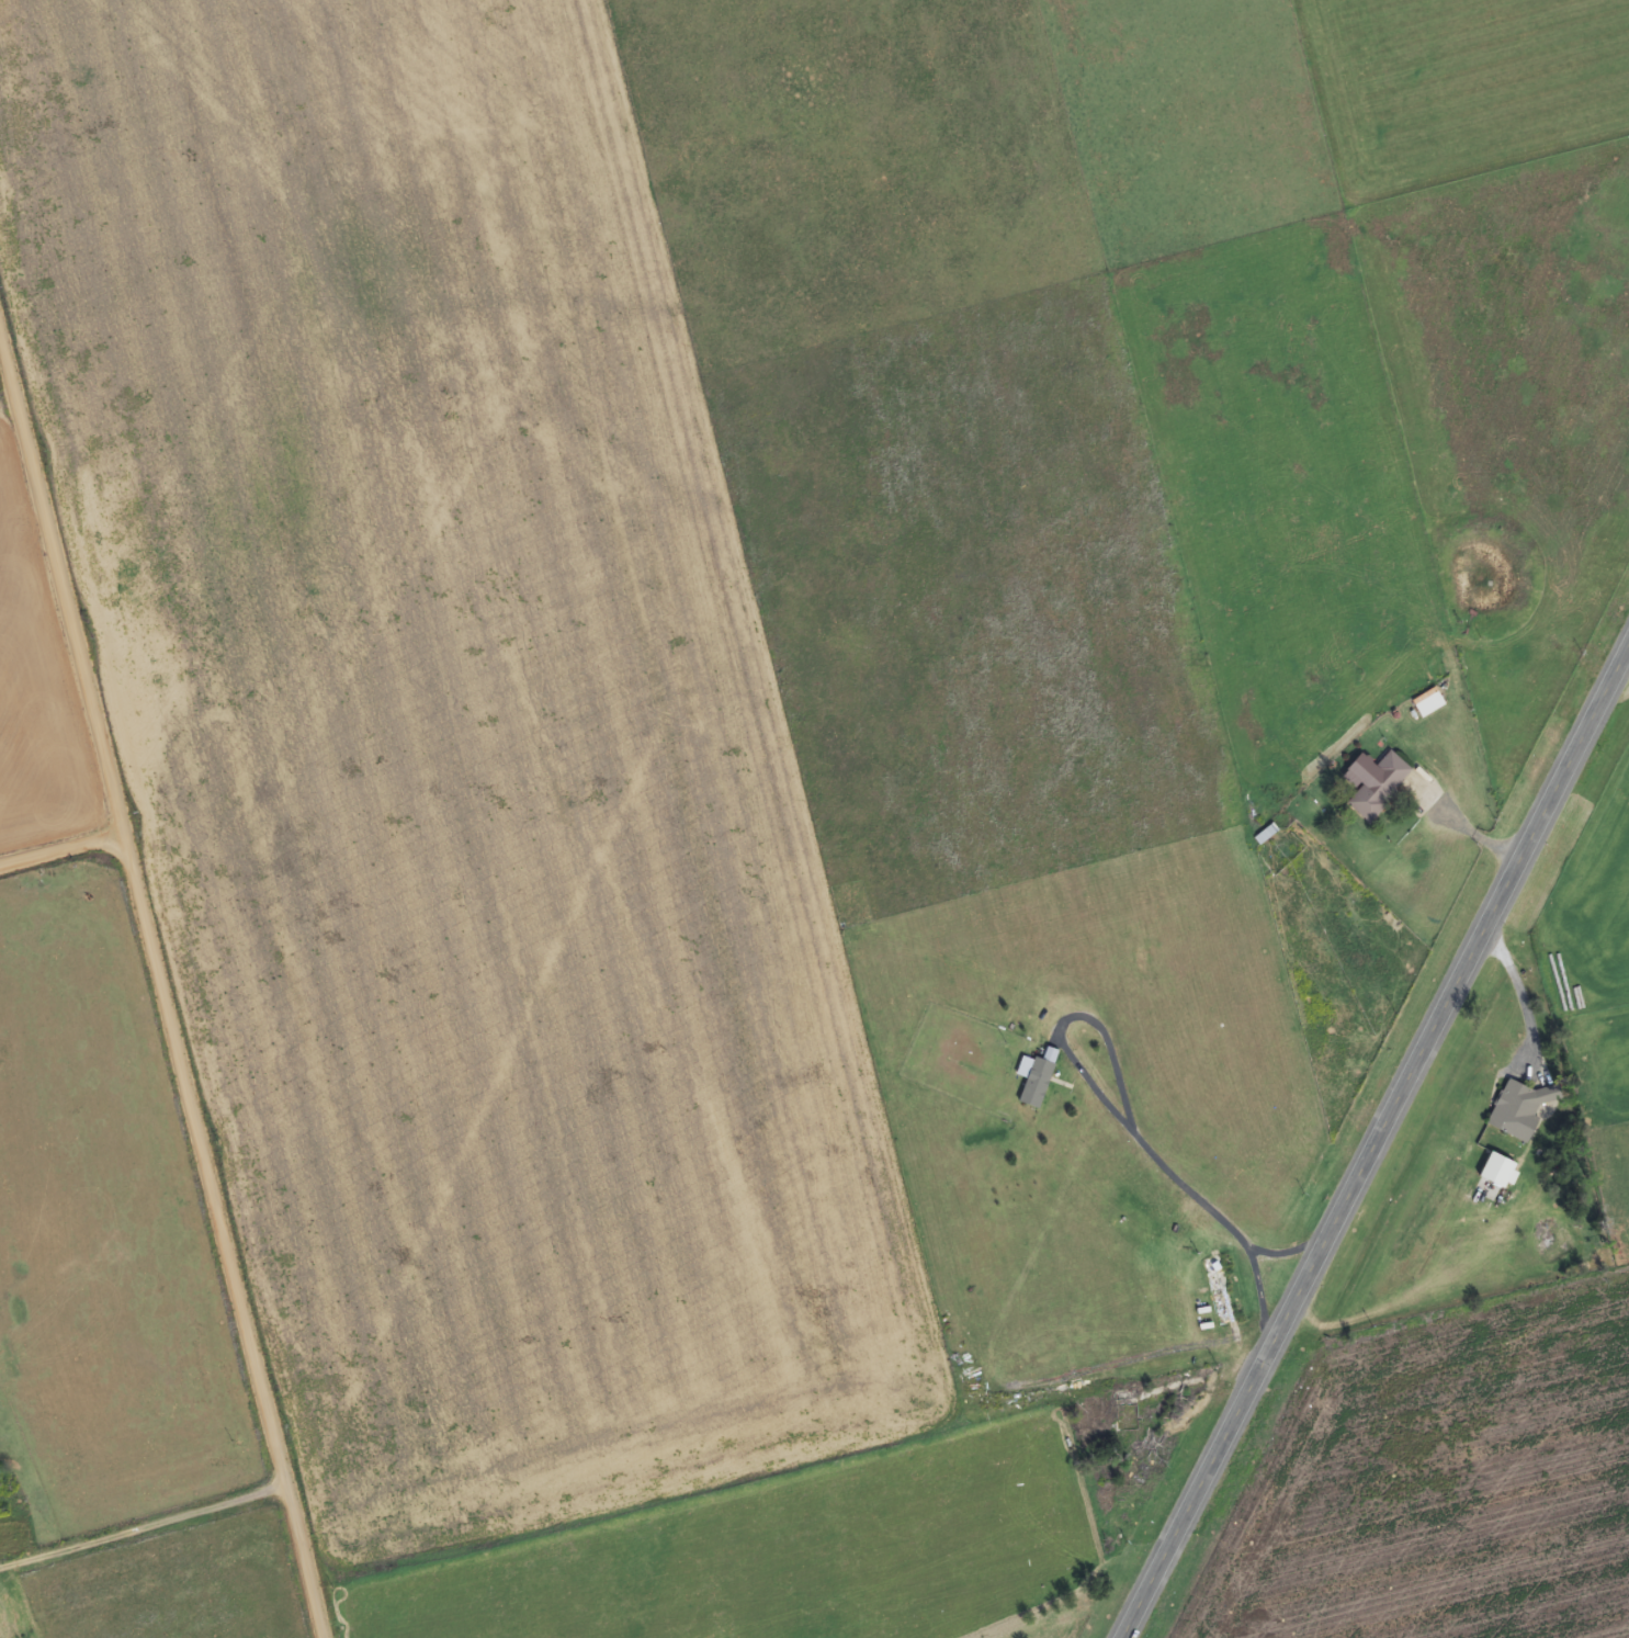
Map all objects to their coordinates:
building: (1429, 702)
building: (1379, 786)
road: (53, 816)
building: (1266, 835)
road: (159, 1010)
building: (1037, 1078)
building: (1514, 1106)
road: (1375, 1141)
road: (125, 1456)

